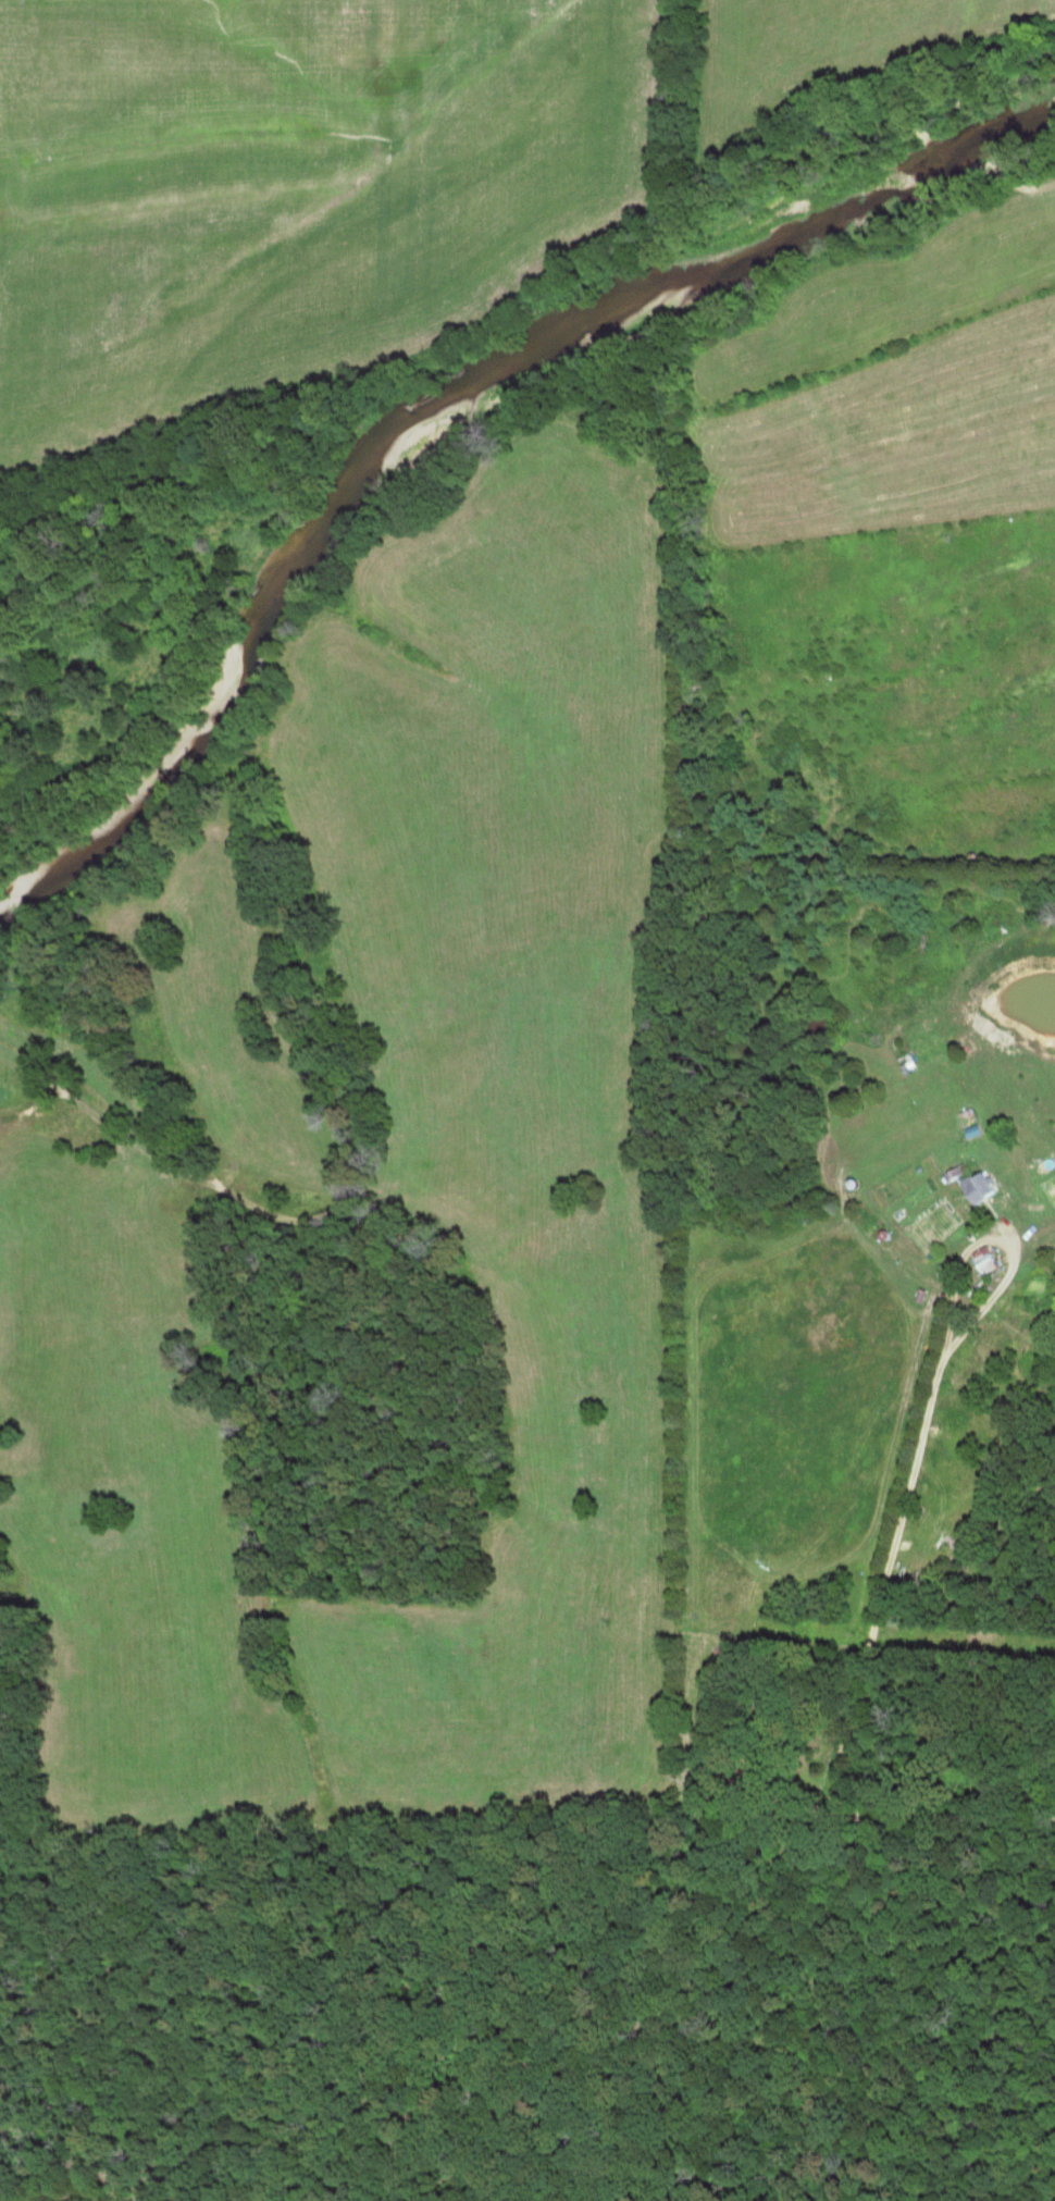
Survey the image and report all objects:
building: (986, 1190)
building: (991, 1262)
road: (748, 1654)
road: (877, 1853)

